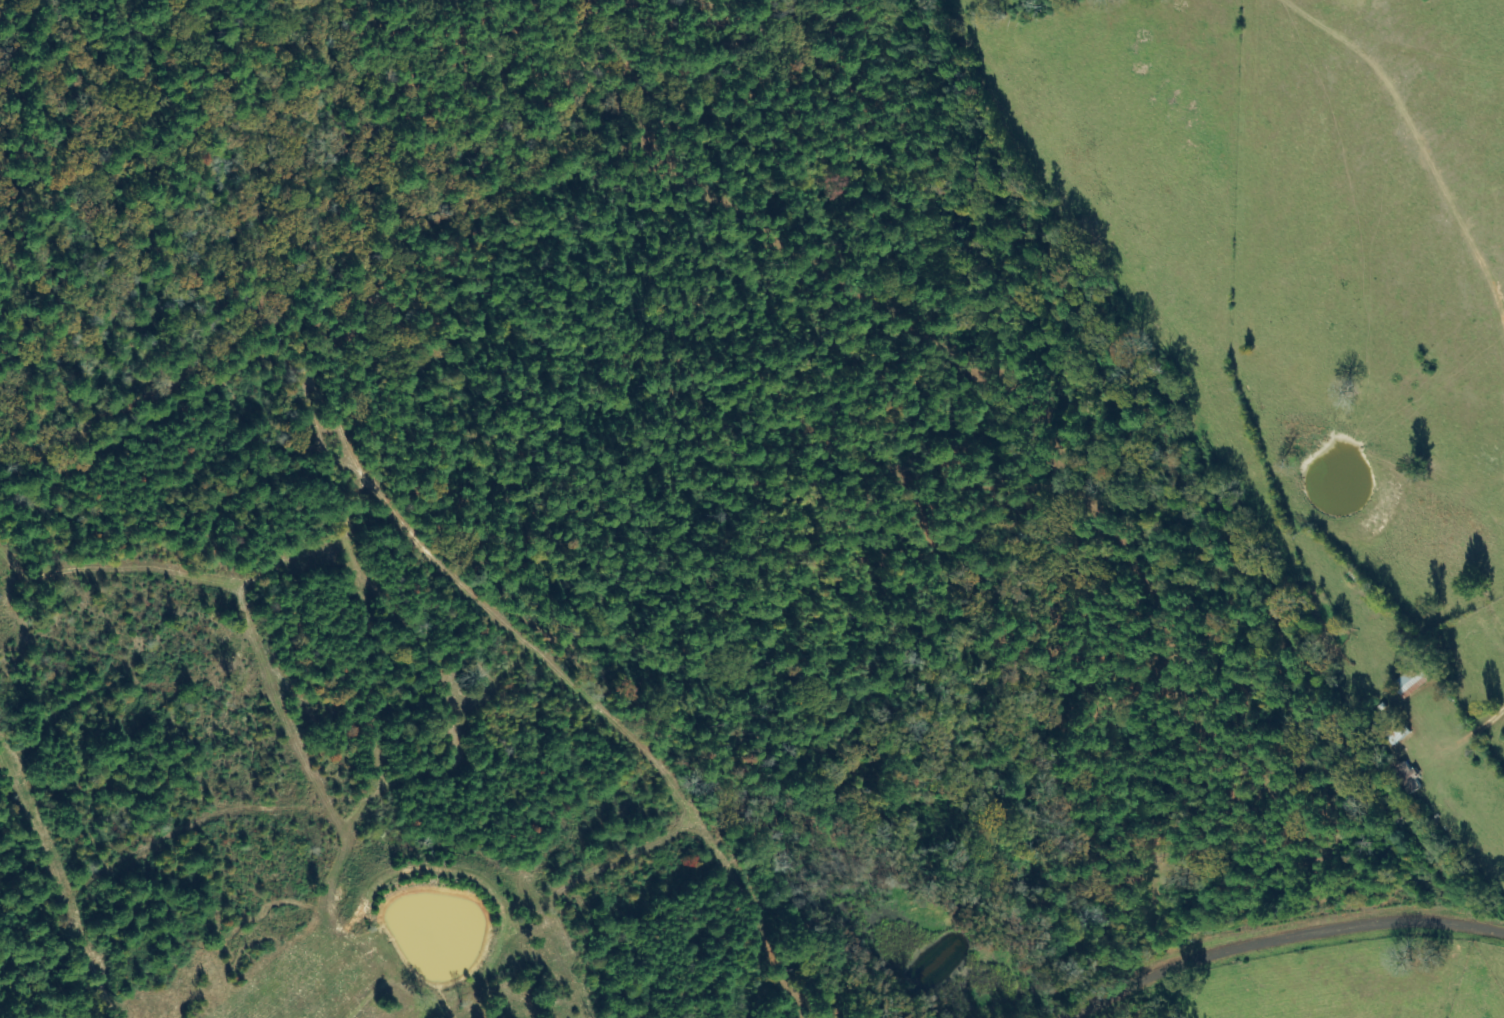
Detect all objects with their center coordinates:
building: (1415, 681)
road: (1303, 944)

